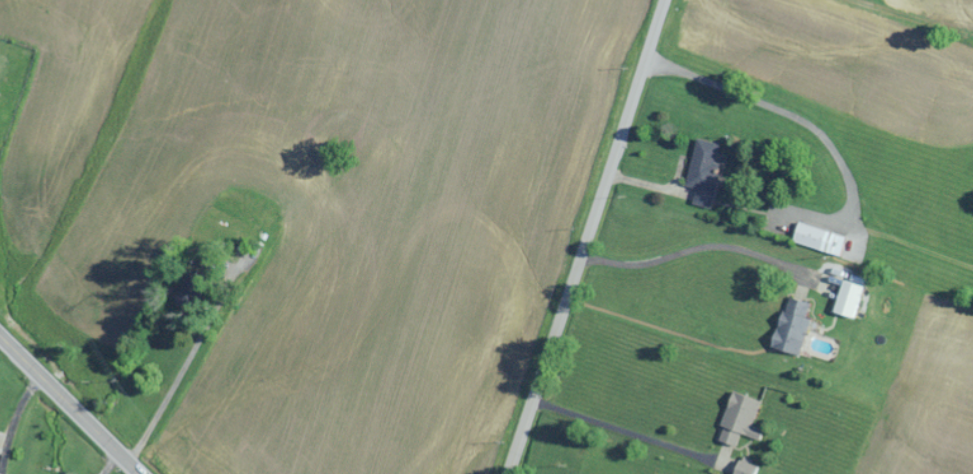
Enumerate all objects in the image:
road: (959, 4)
building: (359, 102)
building: (394, 151)
building: (708, 172)
road: (584, 237)
building: (825, 240)
building: (795, 326)
road: (68, 405)
building: (744, 421)
building: (751, 469)

